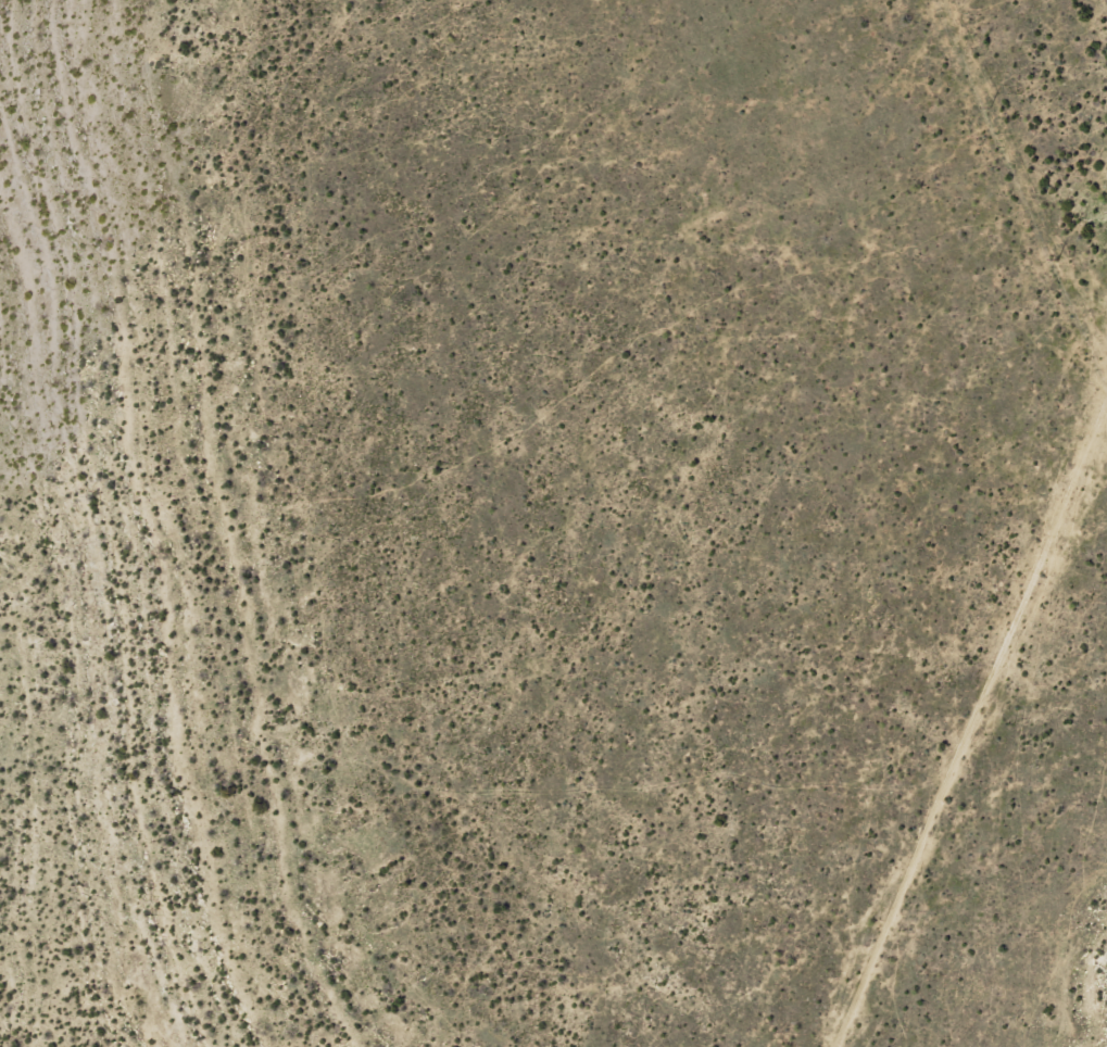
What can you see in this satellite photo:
road: (978, 735)

